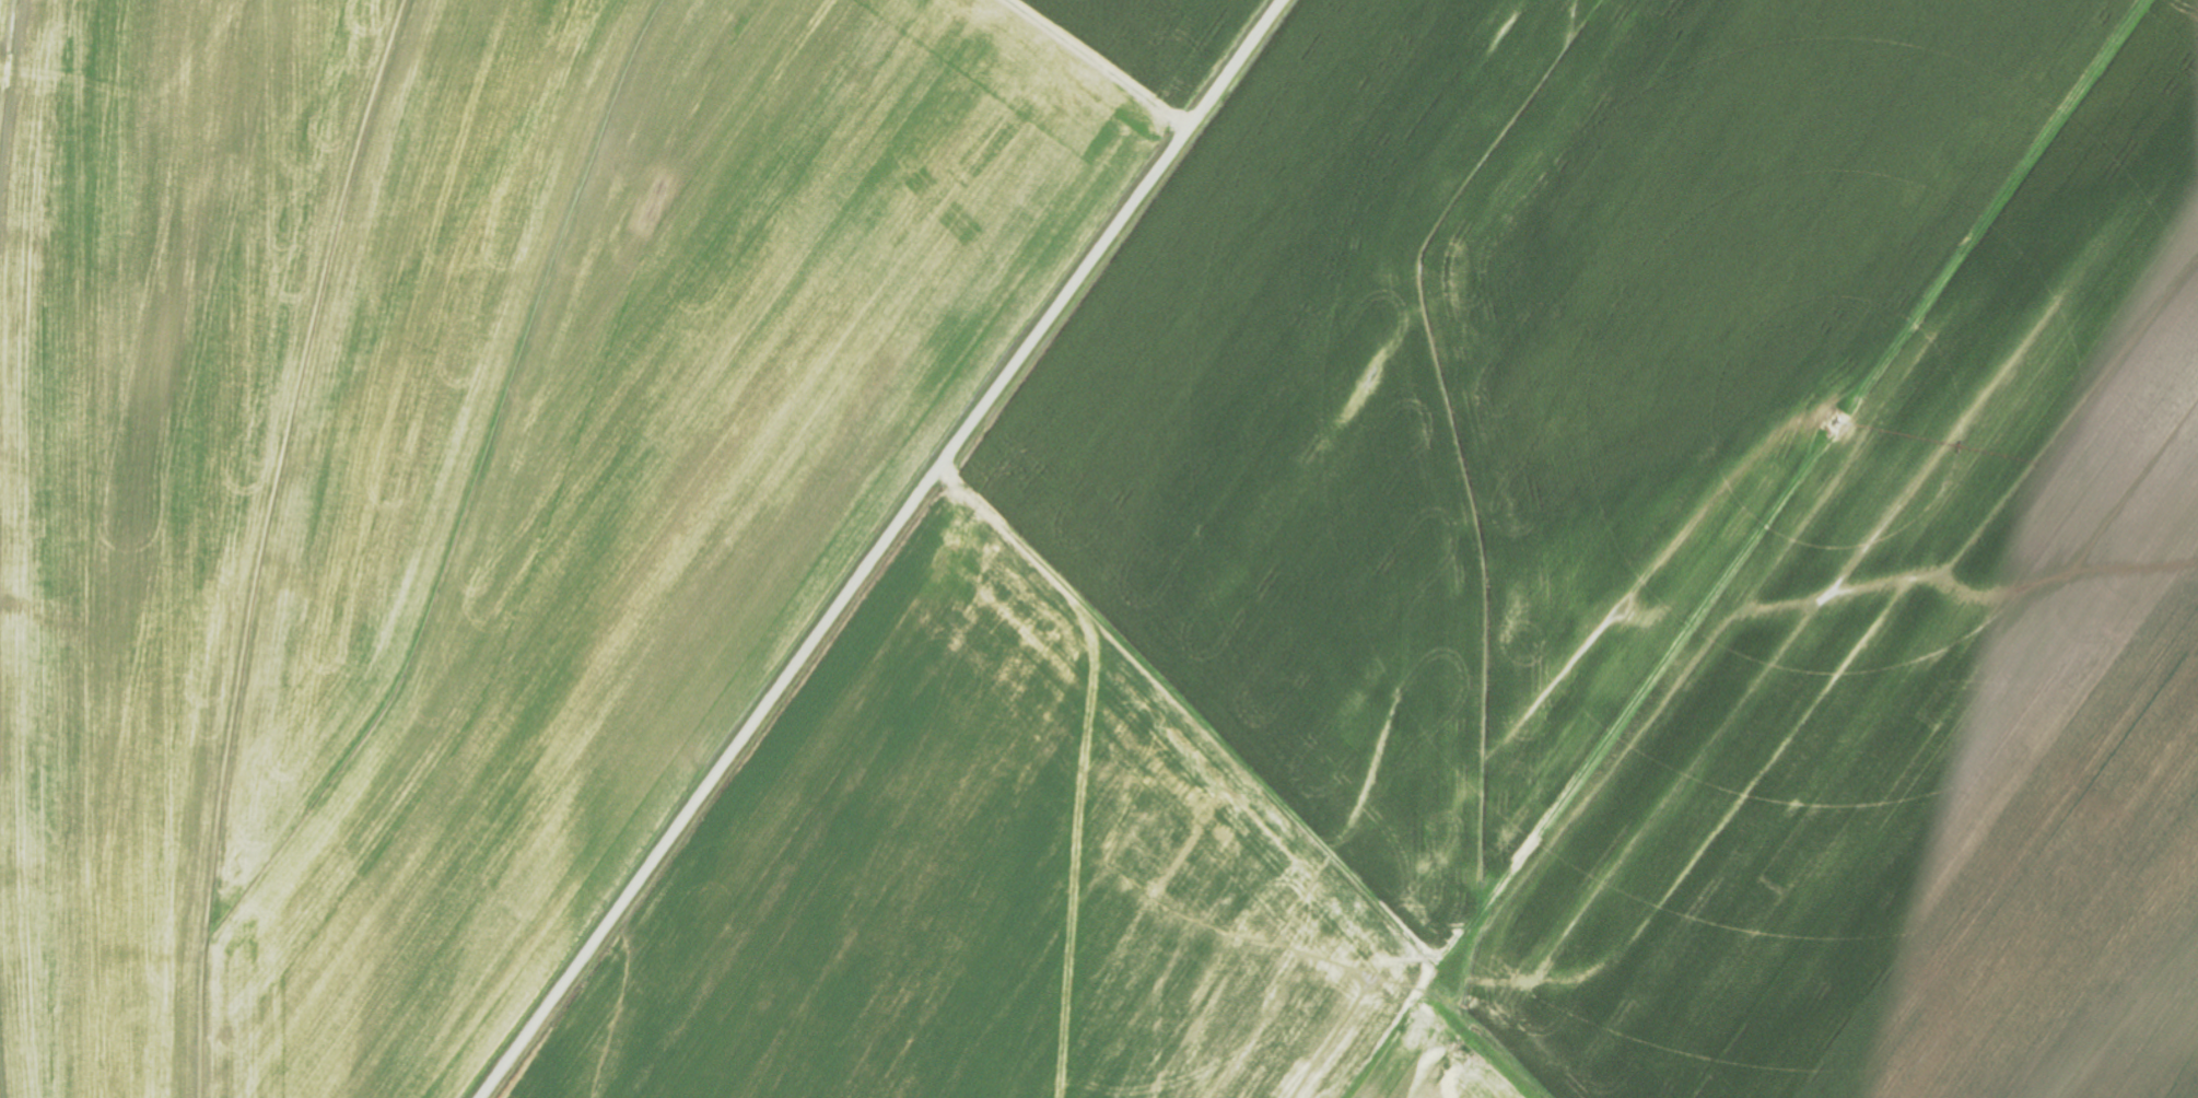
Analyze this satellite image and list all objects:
road: (880, 548)

